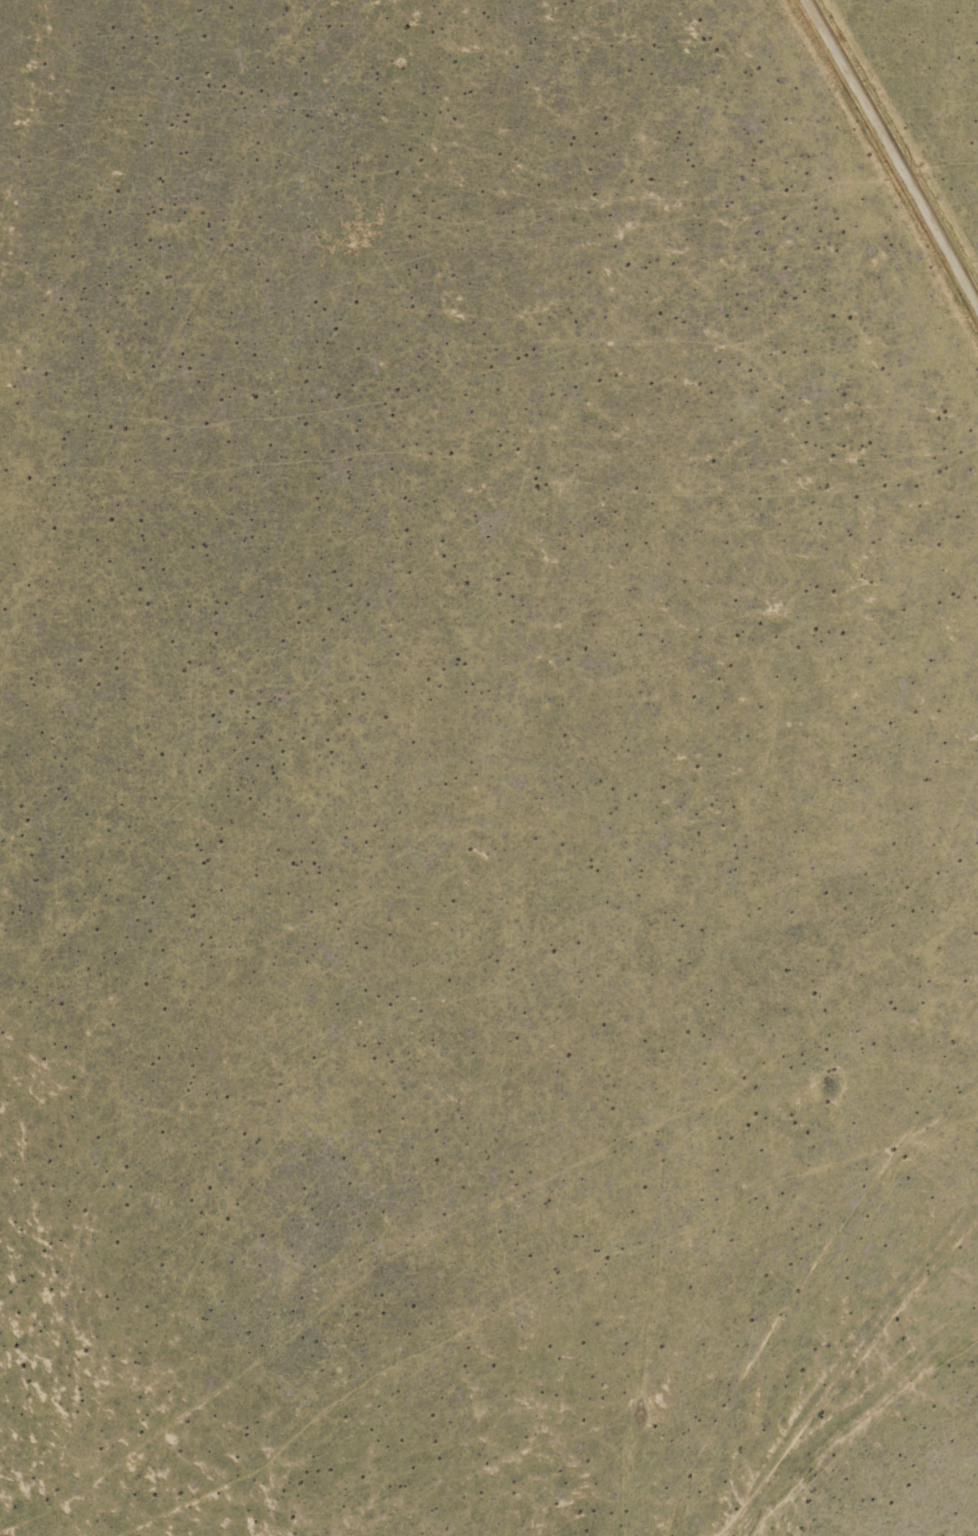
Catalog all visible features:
road: (895, 146)

